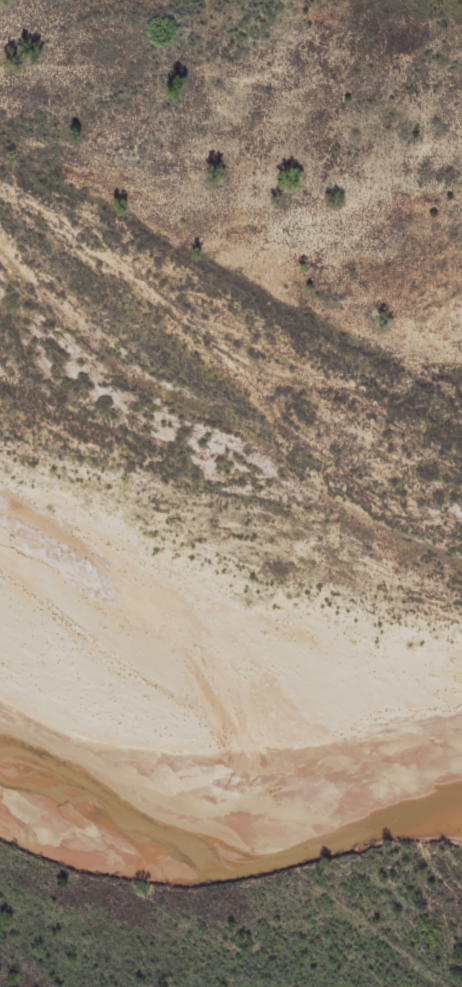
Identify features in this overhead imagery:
river: (222, 703)

